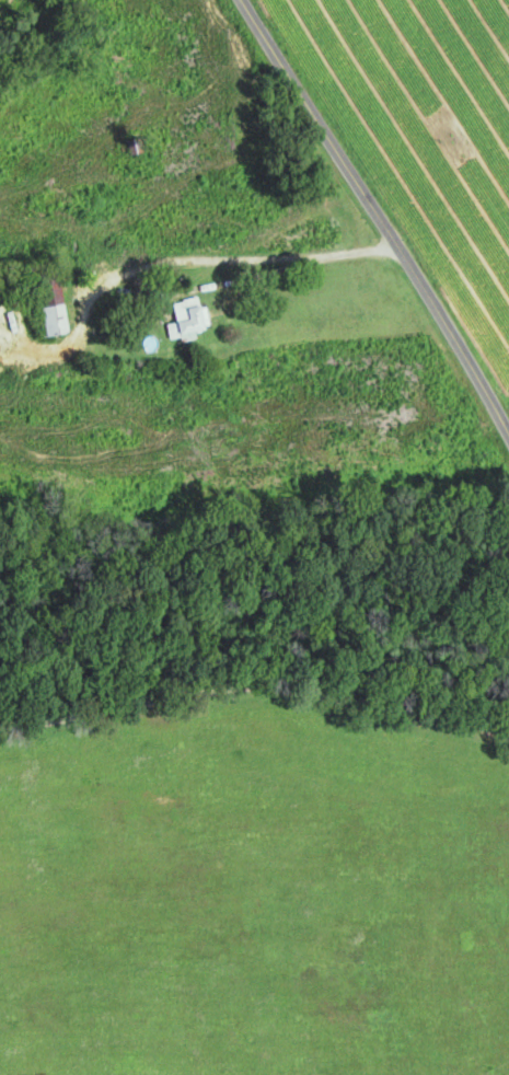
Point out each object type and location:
road: (379, 217)
building: (46, 302)
building: (187, 315)

